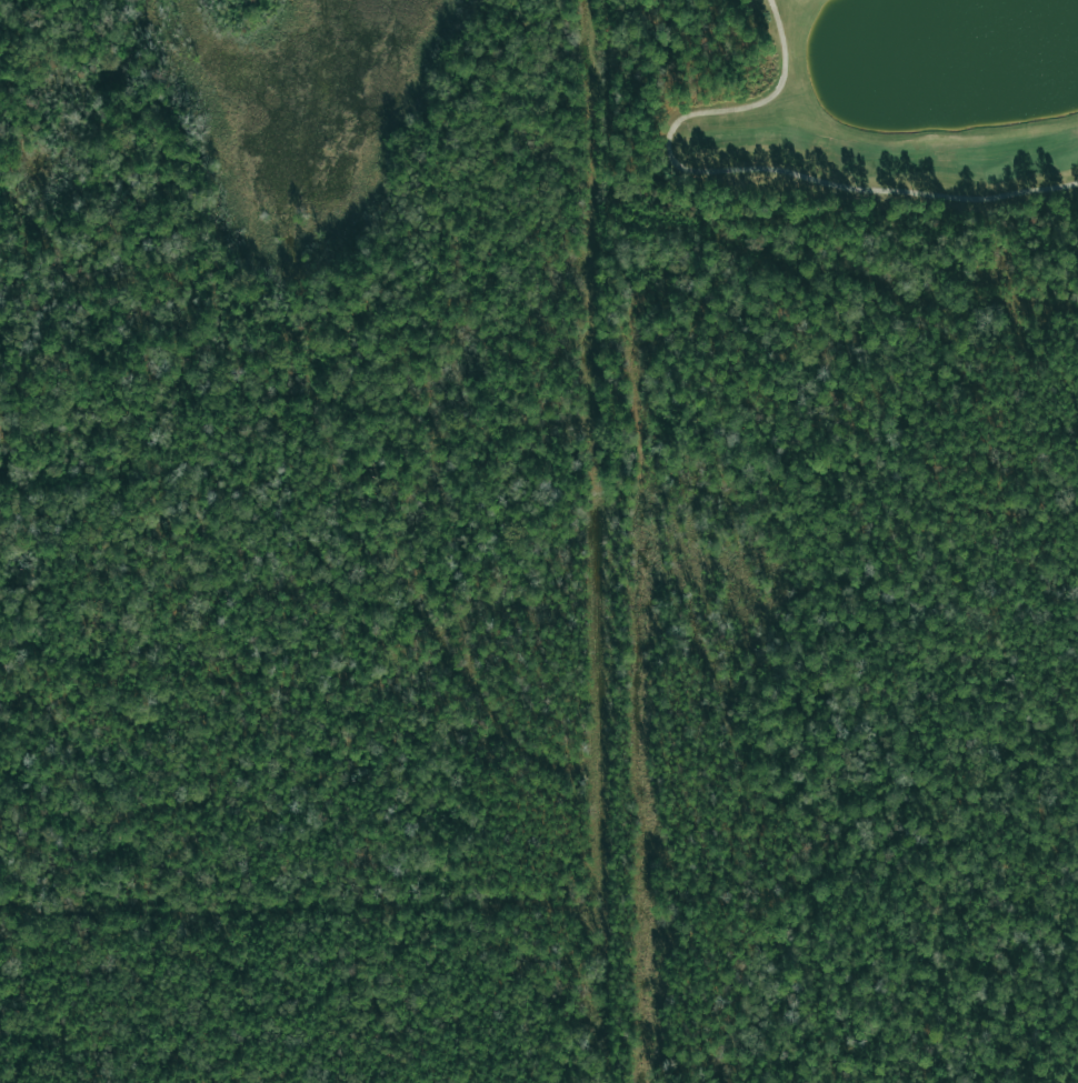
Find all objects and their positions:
park: (835, 108)
park: (835, 108)

